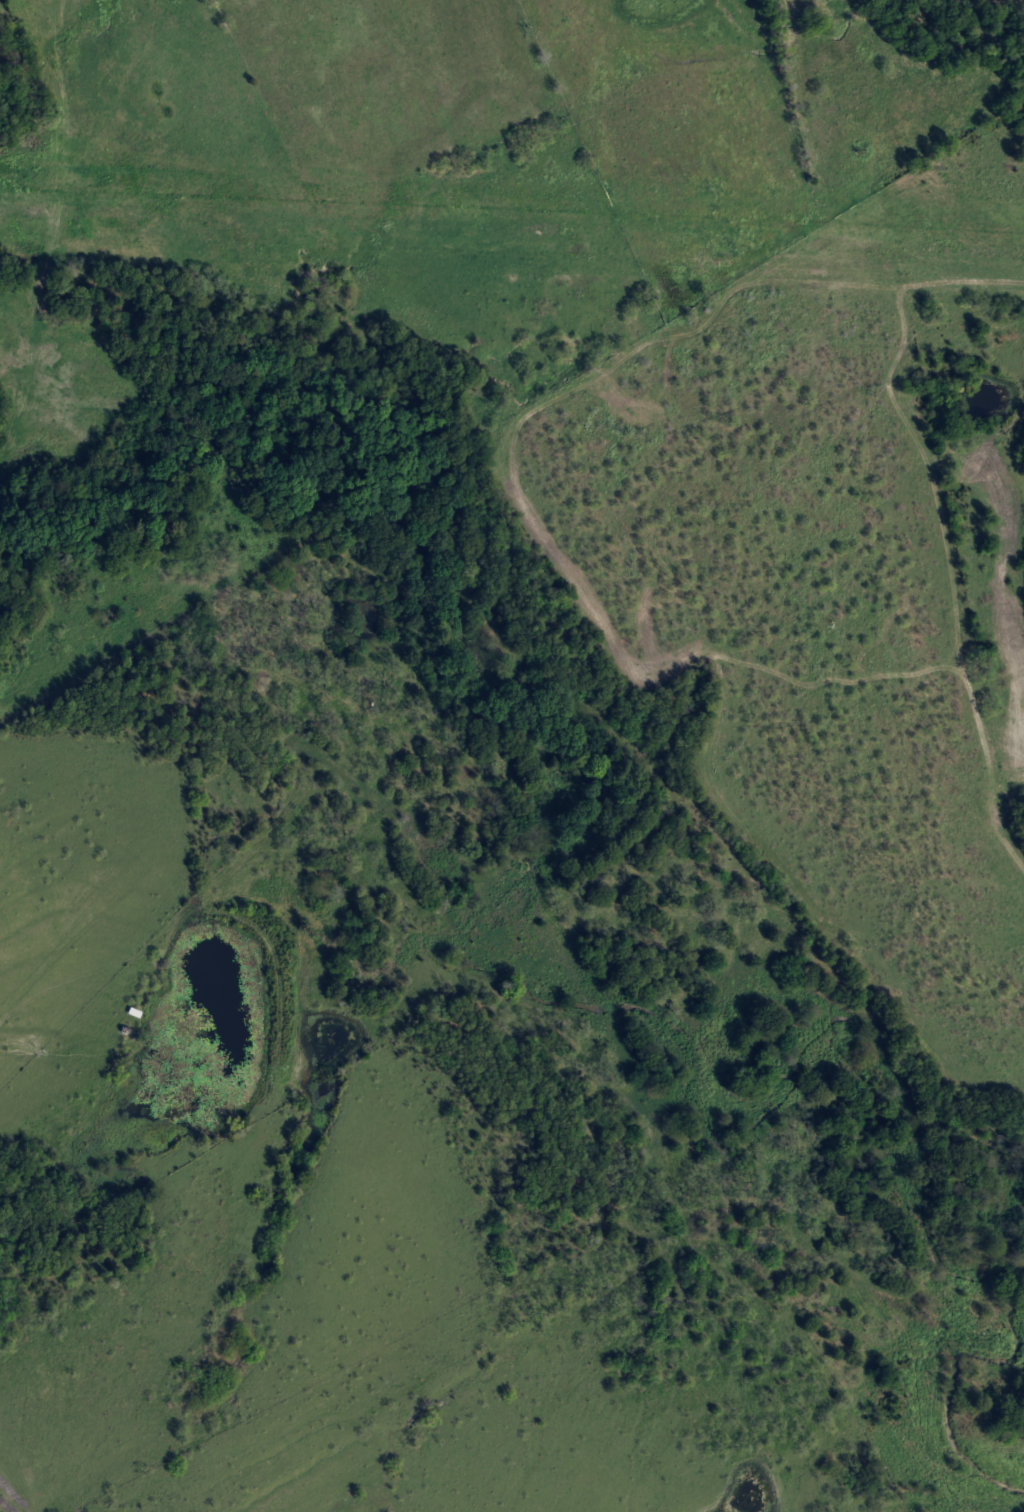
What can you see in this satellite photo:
road: (61, 223)

